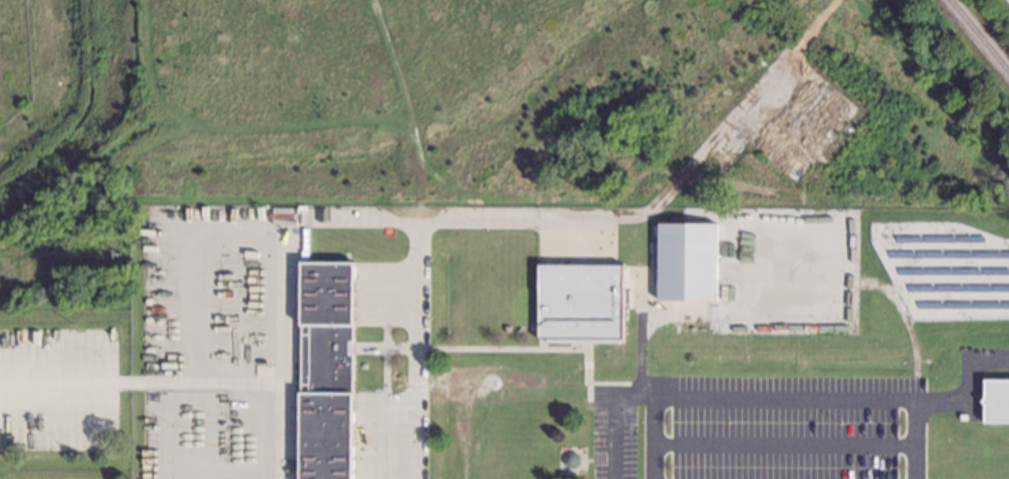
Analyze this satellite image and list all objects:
railway: (979, 35)
road: (355, 216)
road: (602, 217)
building: (689, 261)
building: (580, 301)
building: (508, 328)
building: (328, 370)
road: (140, 385)
road: (785, 396)
building: (996, 400)
building: (572, 460)

